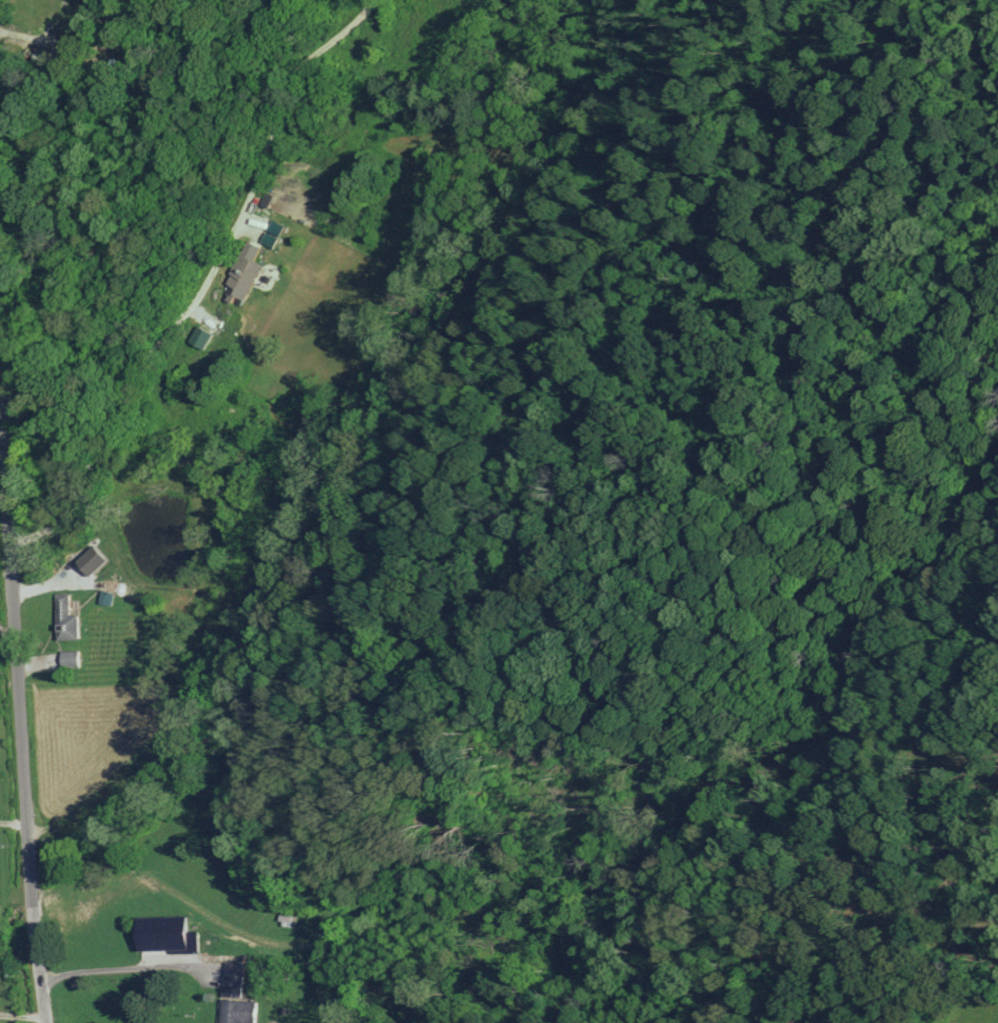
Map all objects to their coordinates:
road: (1, 78)
building: (244, 272)
road: (211, 281)
building: (200, 337)
road: (10, 527)
building: (89, 559)
building: (63, 618)
road: (7, 622)
building: (67, 657)
road: (17, 819)
road: (145, 968)
road: (23, 1013)

